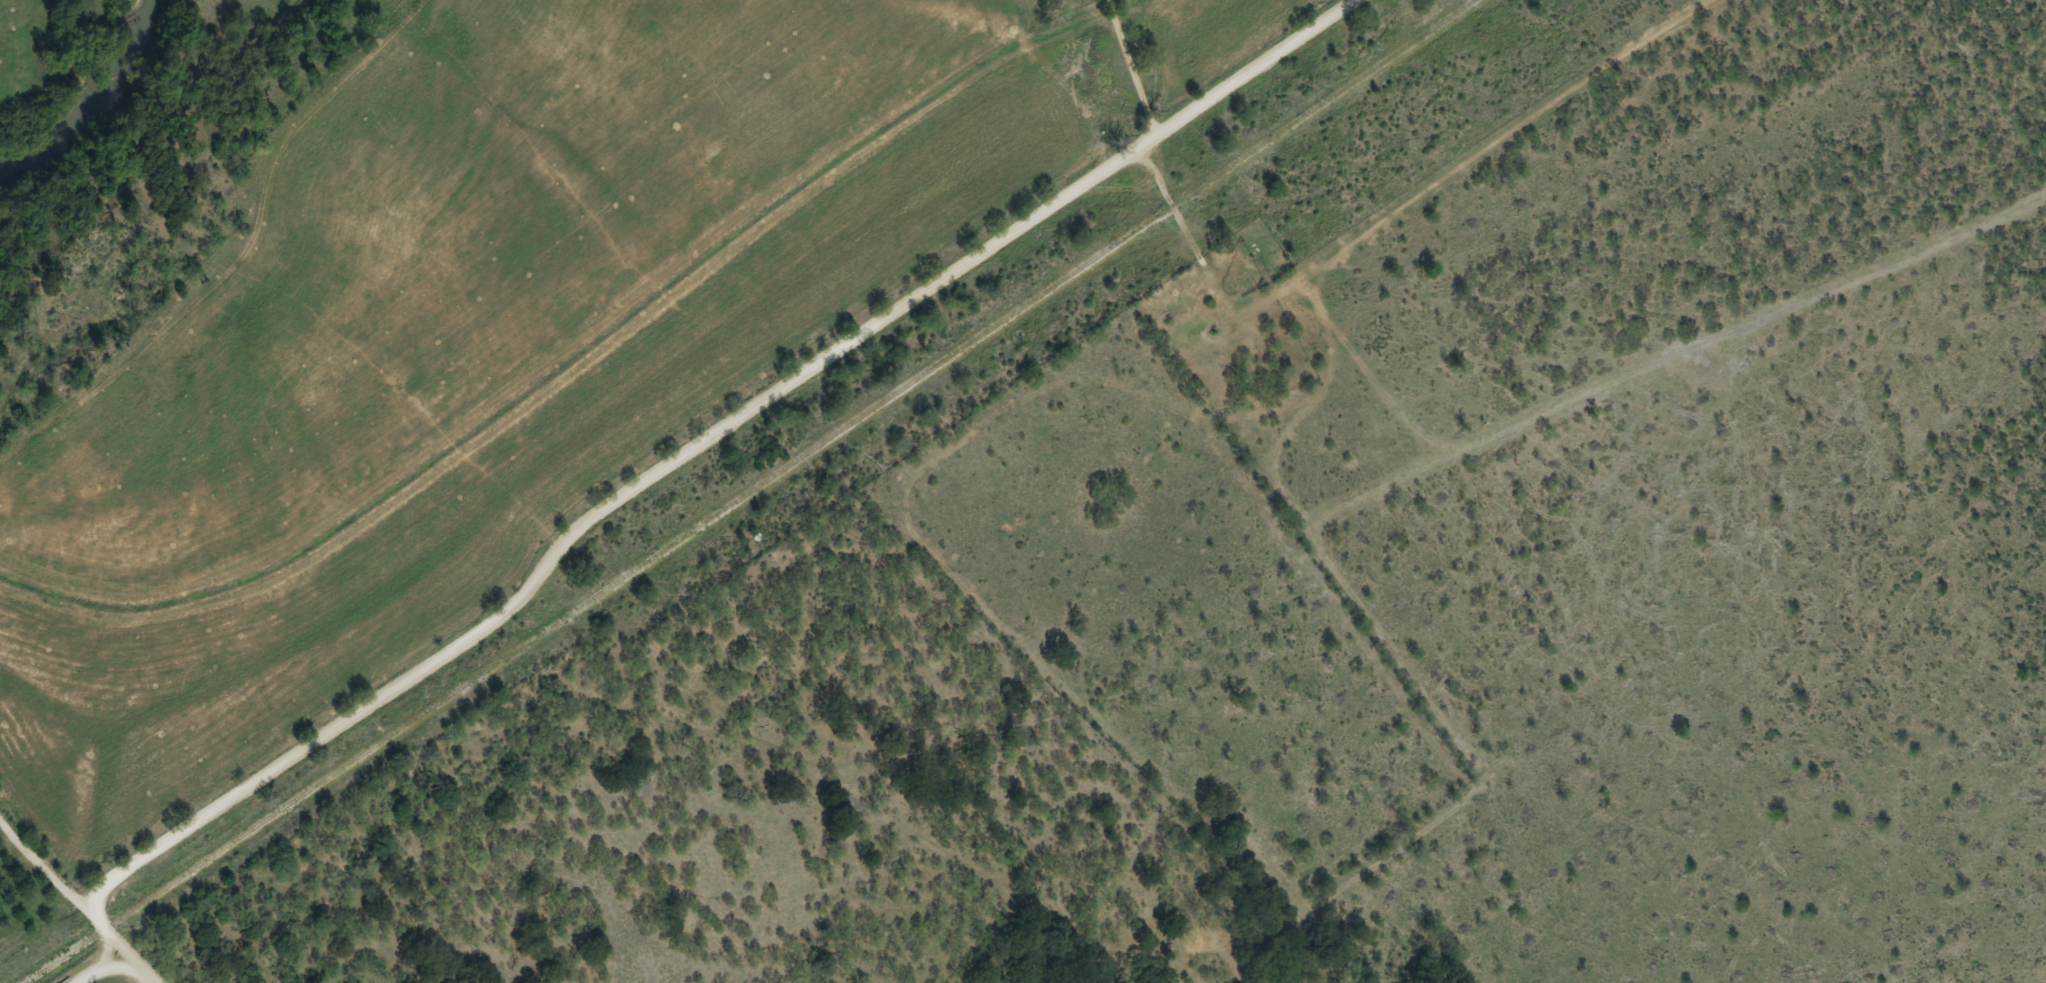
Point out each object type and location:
river: (85, 98)
road: (1171, 215)
road: (691, 450)
railway: (749, 491)
road: (39, 864)
road: (126, 957)

